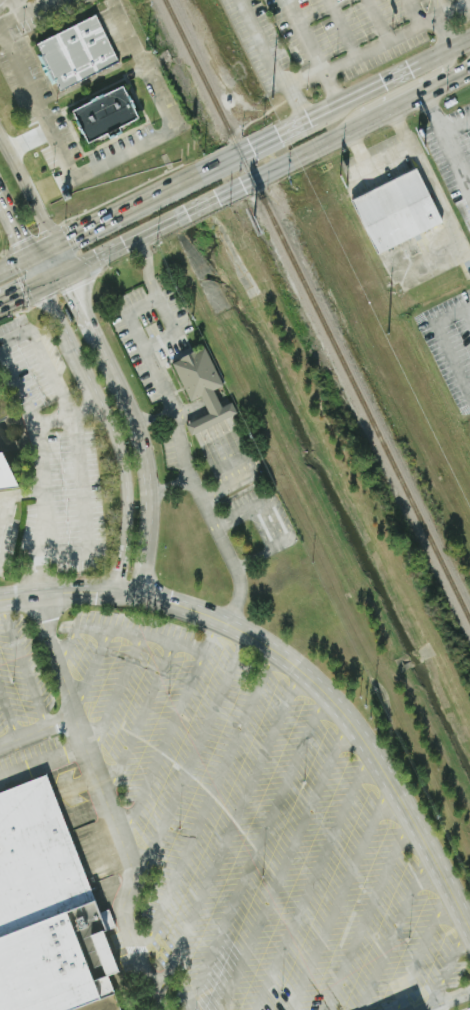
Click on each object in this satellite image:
road: (442, 11)
road: (23, 12)
road: (415, 12)
road: (377, 20)
road: (342, 27)
road: (443, 32)
parking lot: (334, 39)
road: (312, 52)
building: (76, 53)
road: (310, 77)
road: (400, 89)
power tower: (271, 100)
road: (331, 107)
road: (40, 109)
road: (432, 113)
building: (106, 116)
road: (456, 127)
road: (165, 128)
road: (402, 132)
road: (28, 140)
road: (373, 167)
road: (267, 170)
road: (456, 171)
road: (34, 206)
road: (121, 210)
building: (394, 212)
road: (15, 223)
traffic signals: (73, 234)
traffic signals: (23, 237)
road: (41, 249)
road: (15, 261)
road: (147, 268)
road: (37, 270)
road: (54, 280)
traffic signals: (73, 291)
road: (21, 297)
traffic signals: (23, 297)
railway: (316, 312)
road: (178, 327)
road: (14, 334)
power tower: (387, 335)
road: (435, 352)
building: (202, 389)
road: (192, 408)
road: (69, 415)
road: (209, 419)
road: (135, 429)
road: (112, 433)
road: (77, 459)
road: (233, 466)
building: (6, 478)
road: (171, 485)
road: (198, 489)
road: (14, 496)
road: (142, 631)
road: (69, 640)
road: (23, 666)
road: (91, 666)
road: (297, 669)
road: (68, 683)
road: (118, 693)
road: (9, 715)
road: (141, 715)
road: (172, 725)
road: (38, 730)
road: (192, 757)
road: (207, 804)
road: (225, 837)
road: (256, 852)
road: (283, 865)
road: (312, 879)
road: (342, 897)
building: (44, 910)
road: (370, 914)
road: (396, 930)
road: (425, 950)
road: (454, 963)
road: (449, 999)
building: (96, 1003)
road: (426, 1007)

